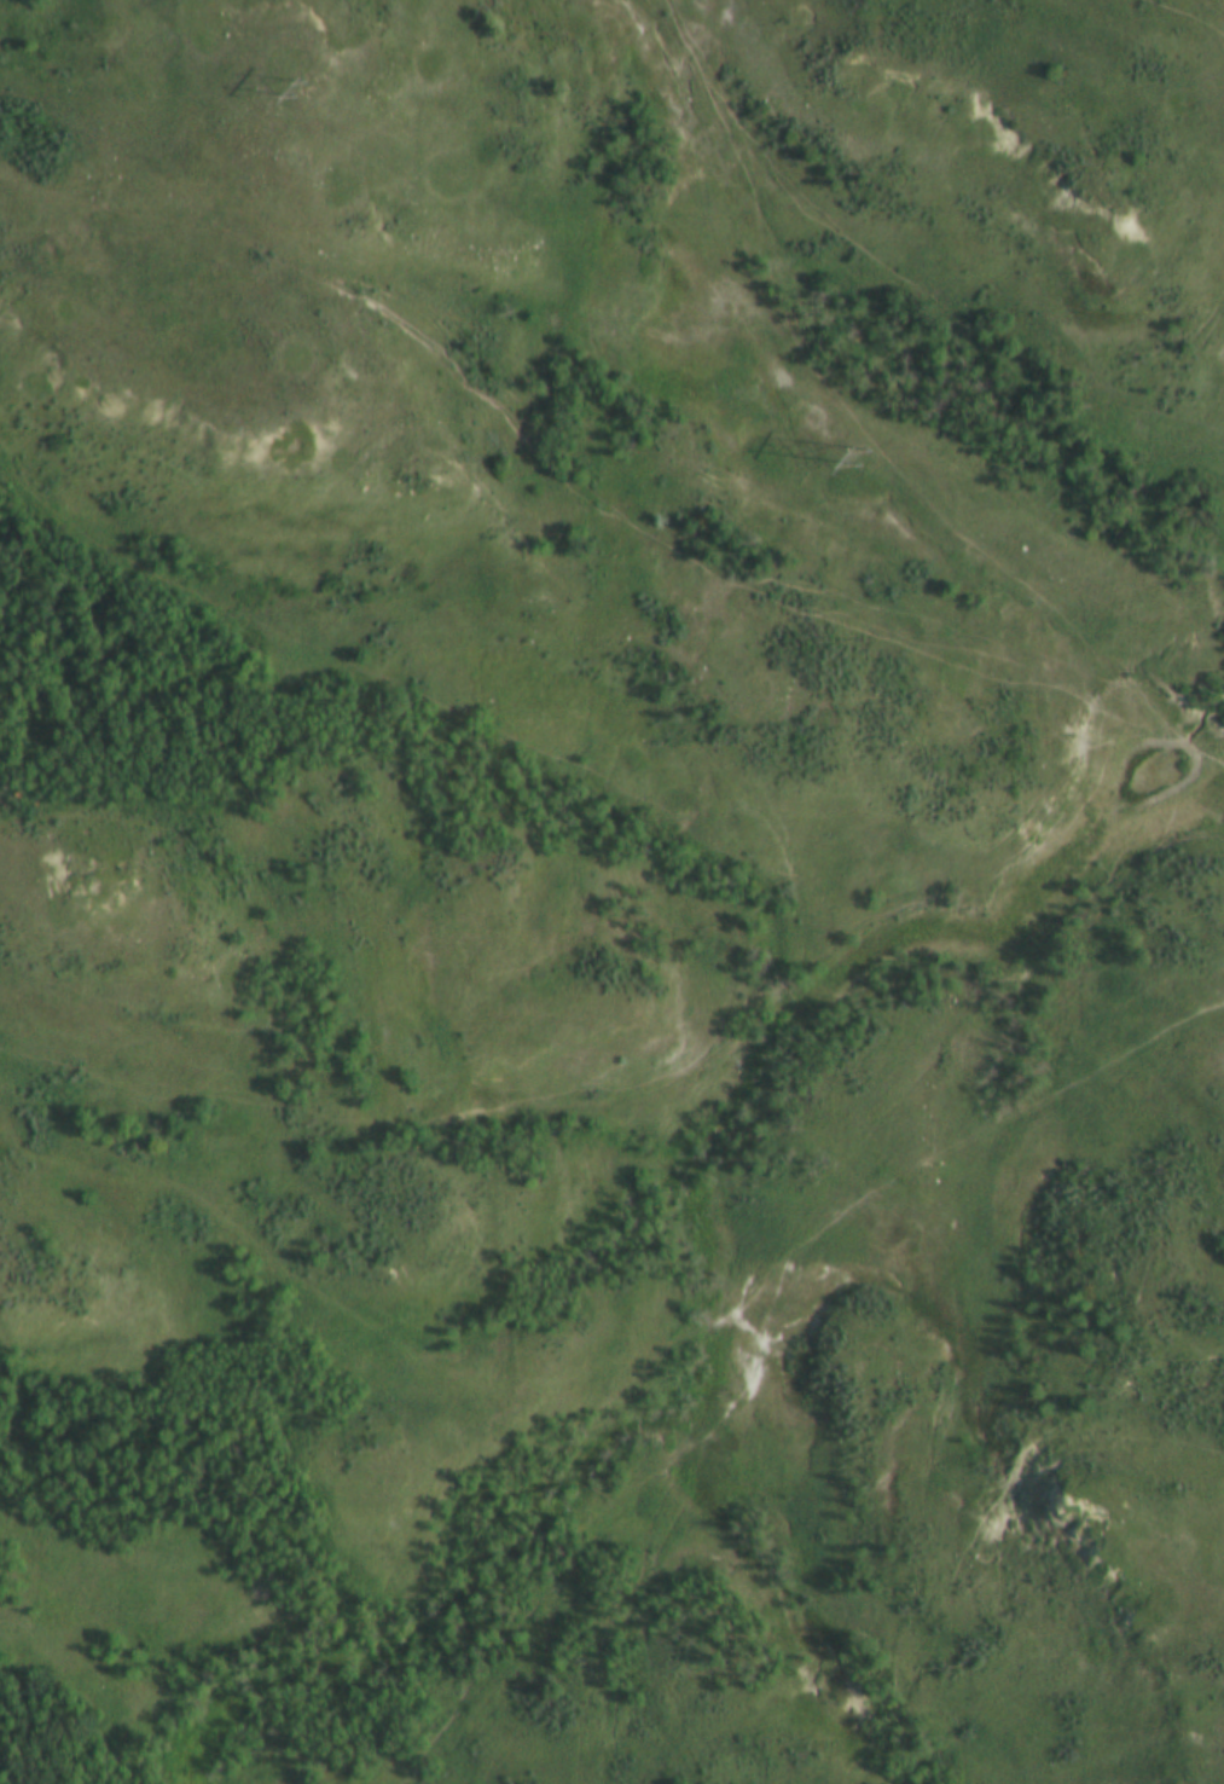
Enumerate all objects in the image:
power tower: (311, 92)
power tower: (864, 464)

